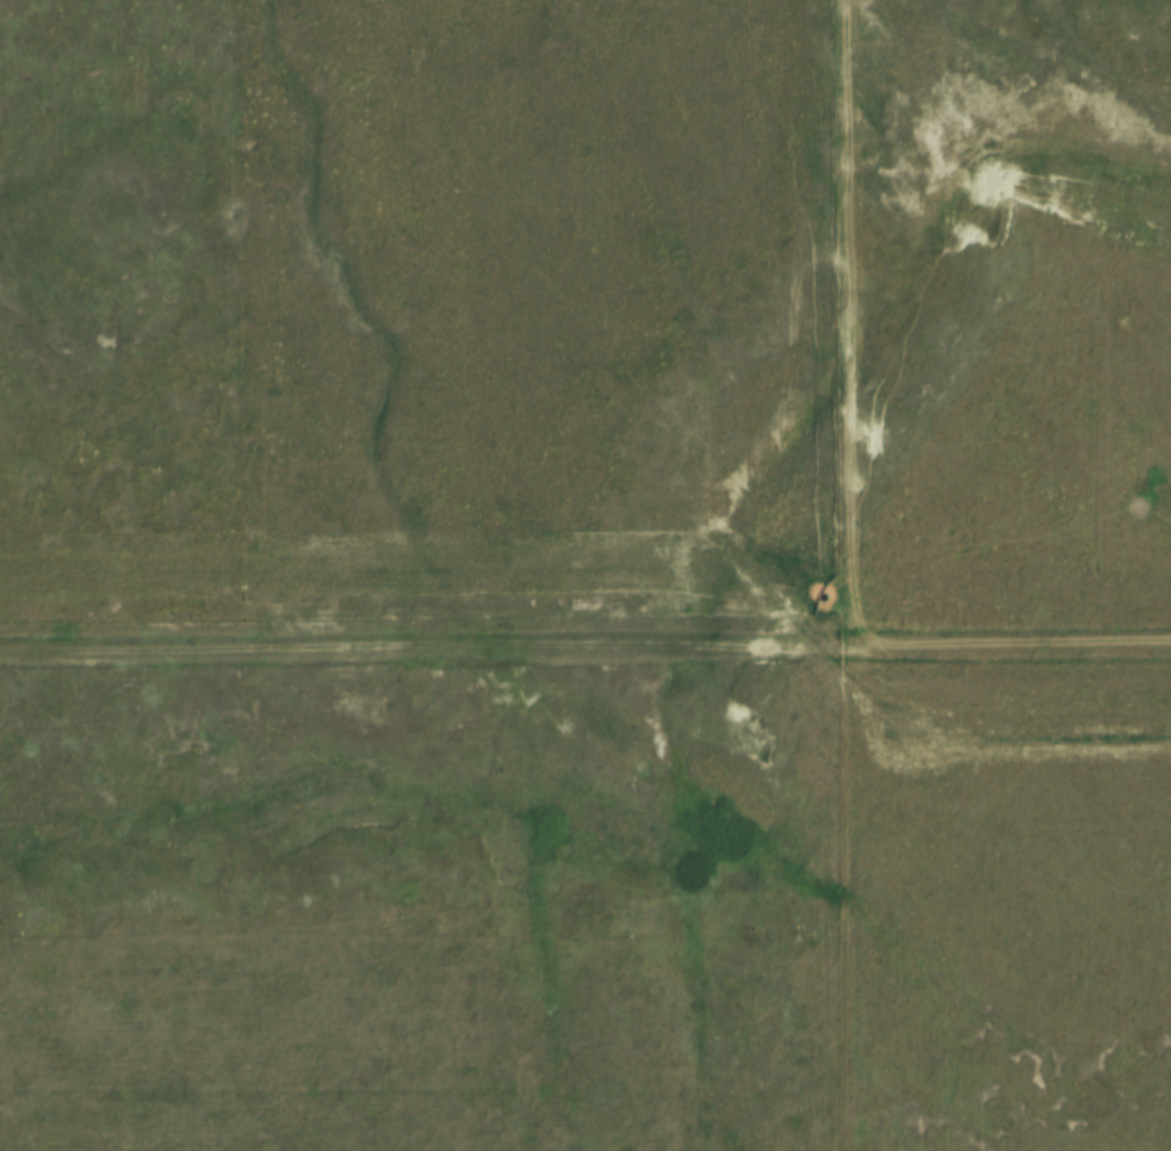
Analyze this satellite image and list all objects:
road: (585, 645)

